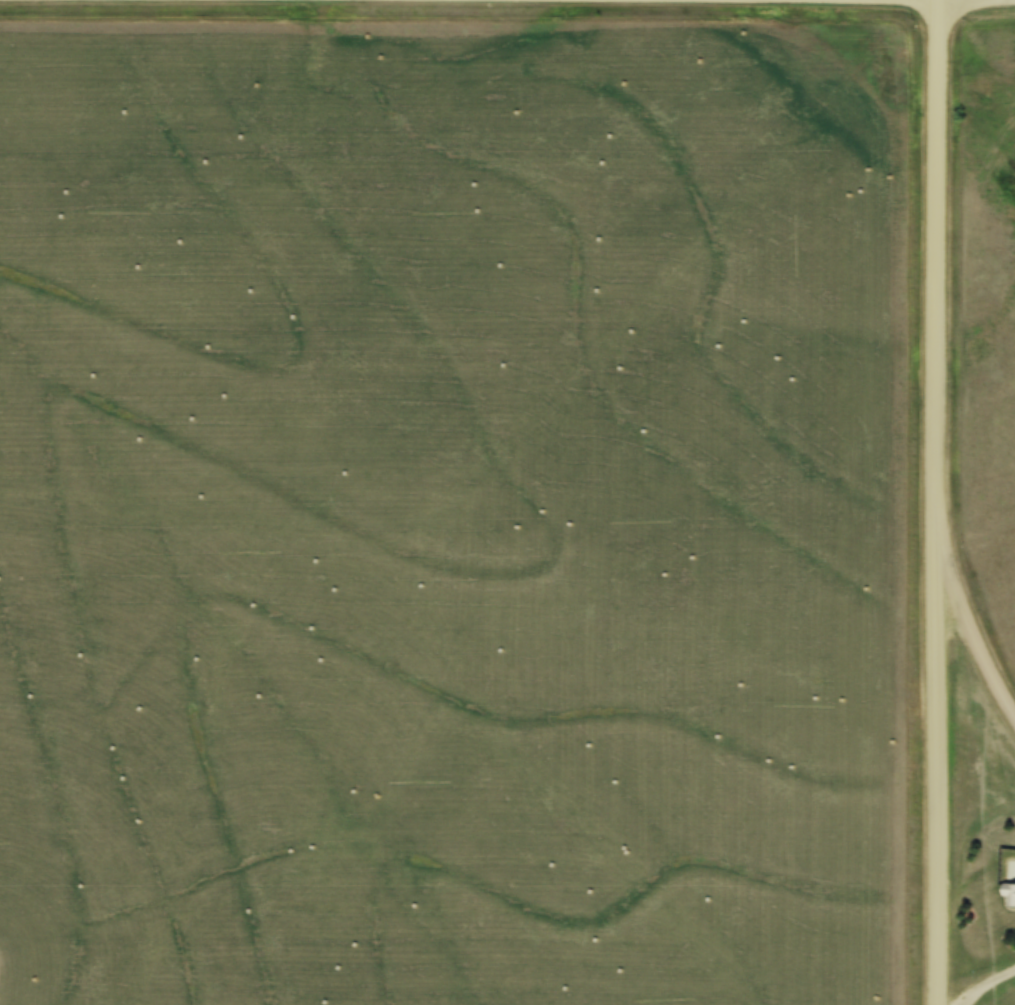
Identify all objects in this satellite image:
road: (936, 502)
road: (967, 627)
building: (1009, 893)
road: (981, 980)

